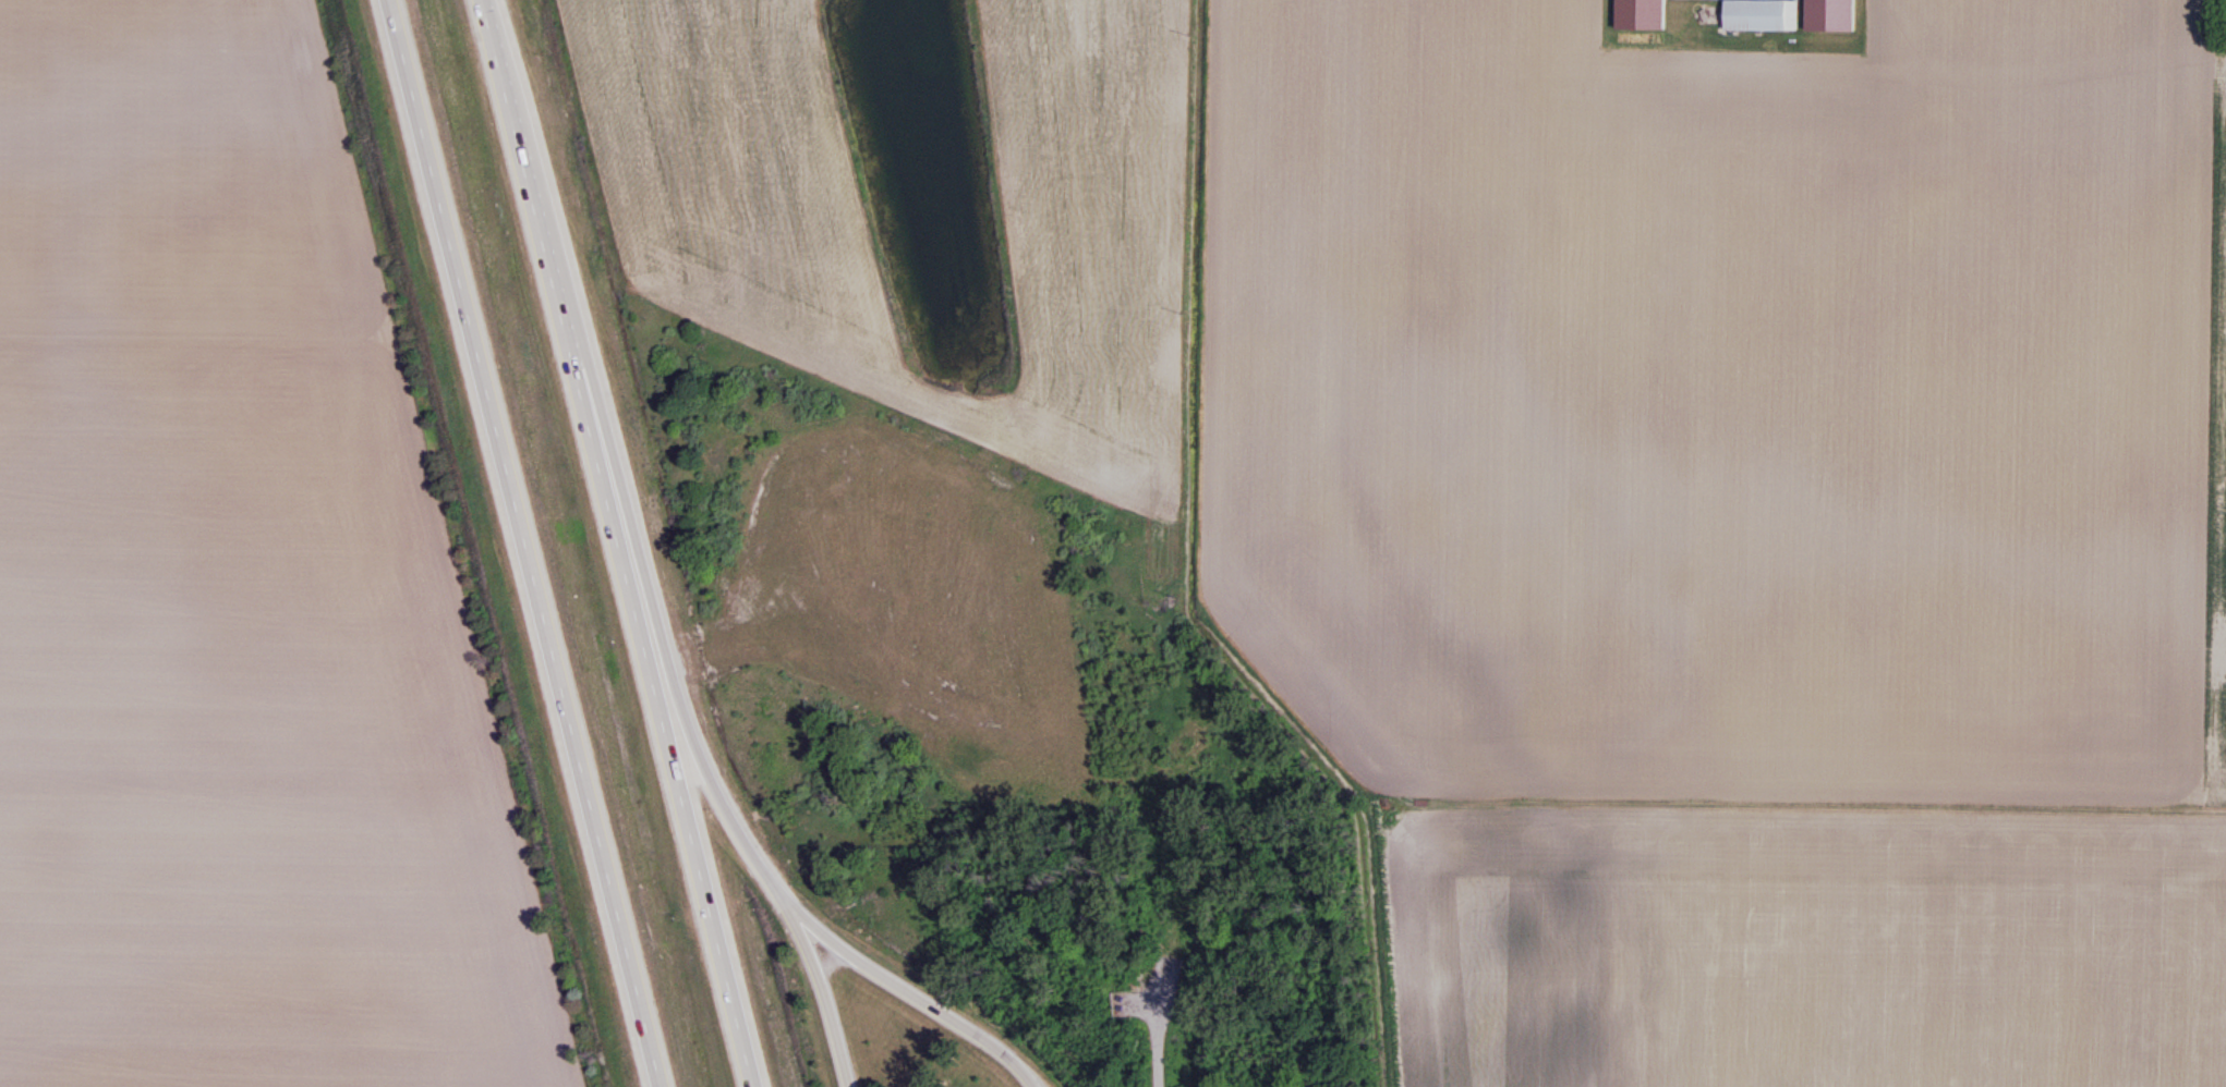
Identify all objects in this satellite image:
building: (1641, 15)
building: (1761, 16)
road: (1202, 290)
road: (520, 542)
road: (620, 543)
road: (642, 584)
road: (923, 999)
road: (824, 1000)
road: (1142, 1004)
road: (1157, 1024)

